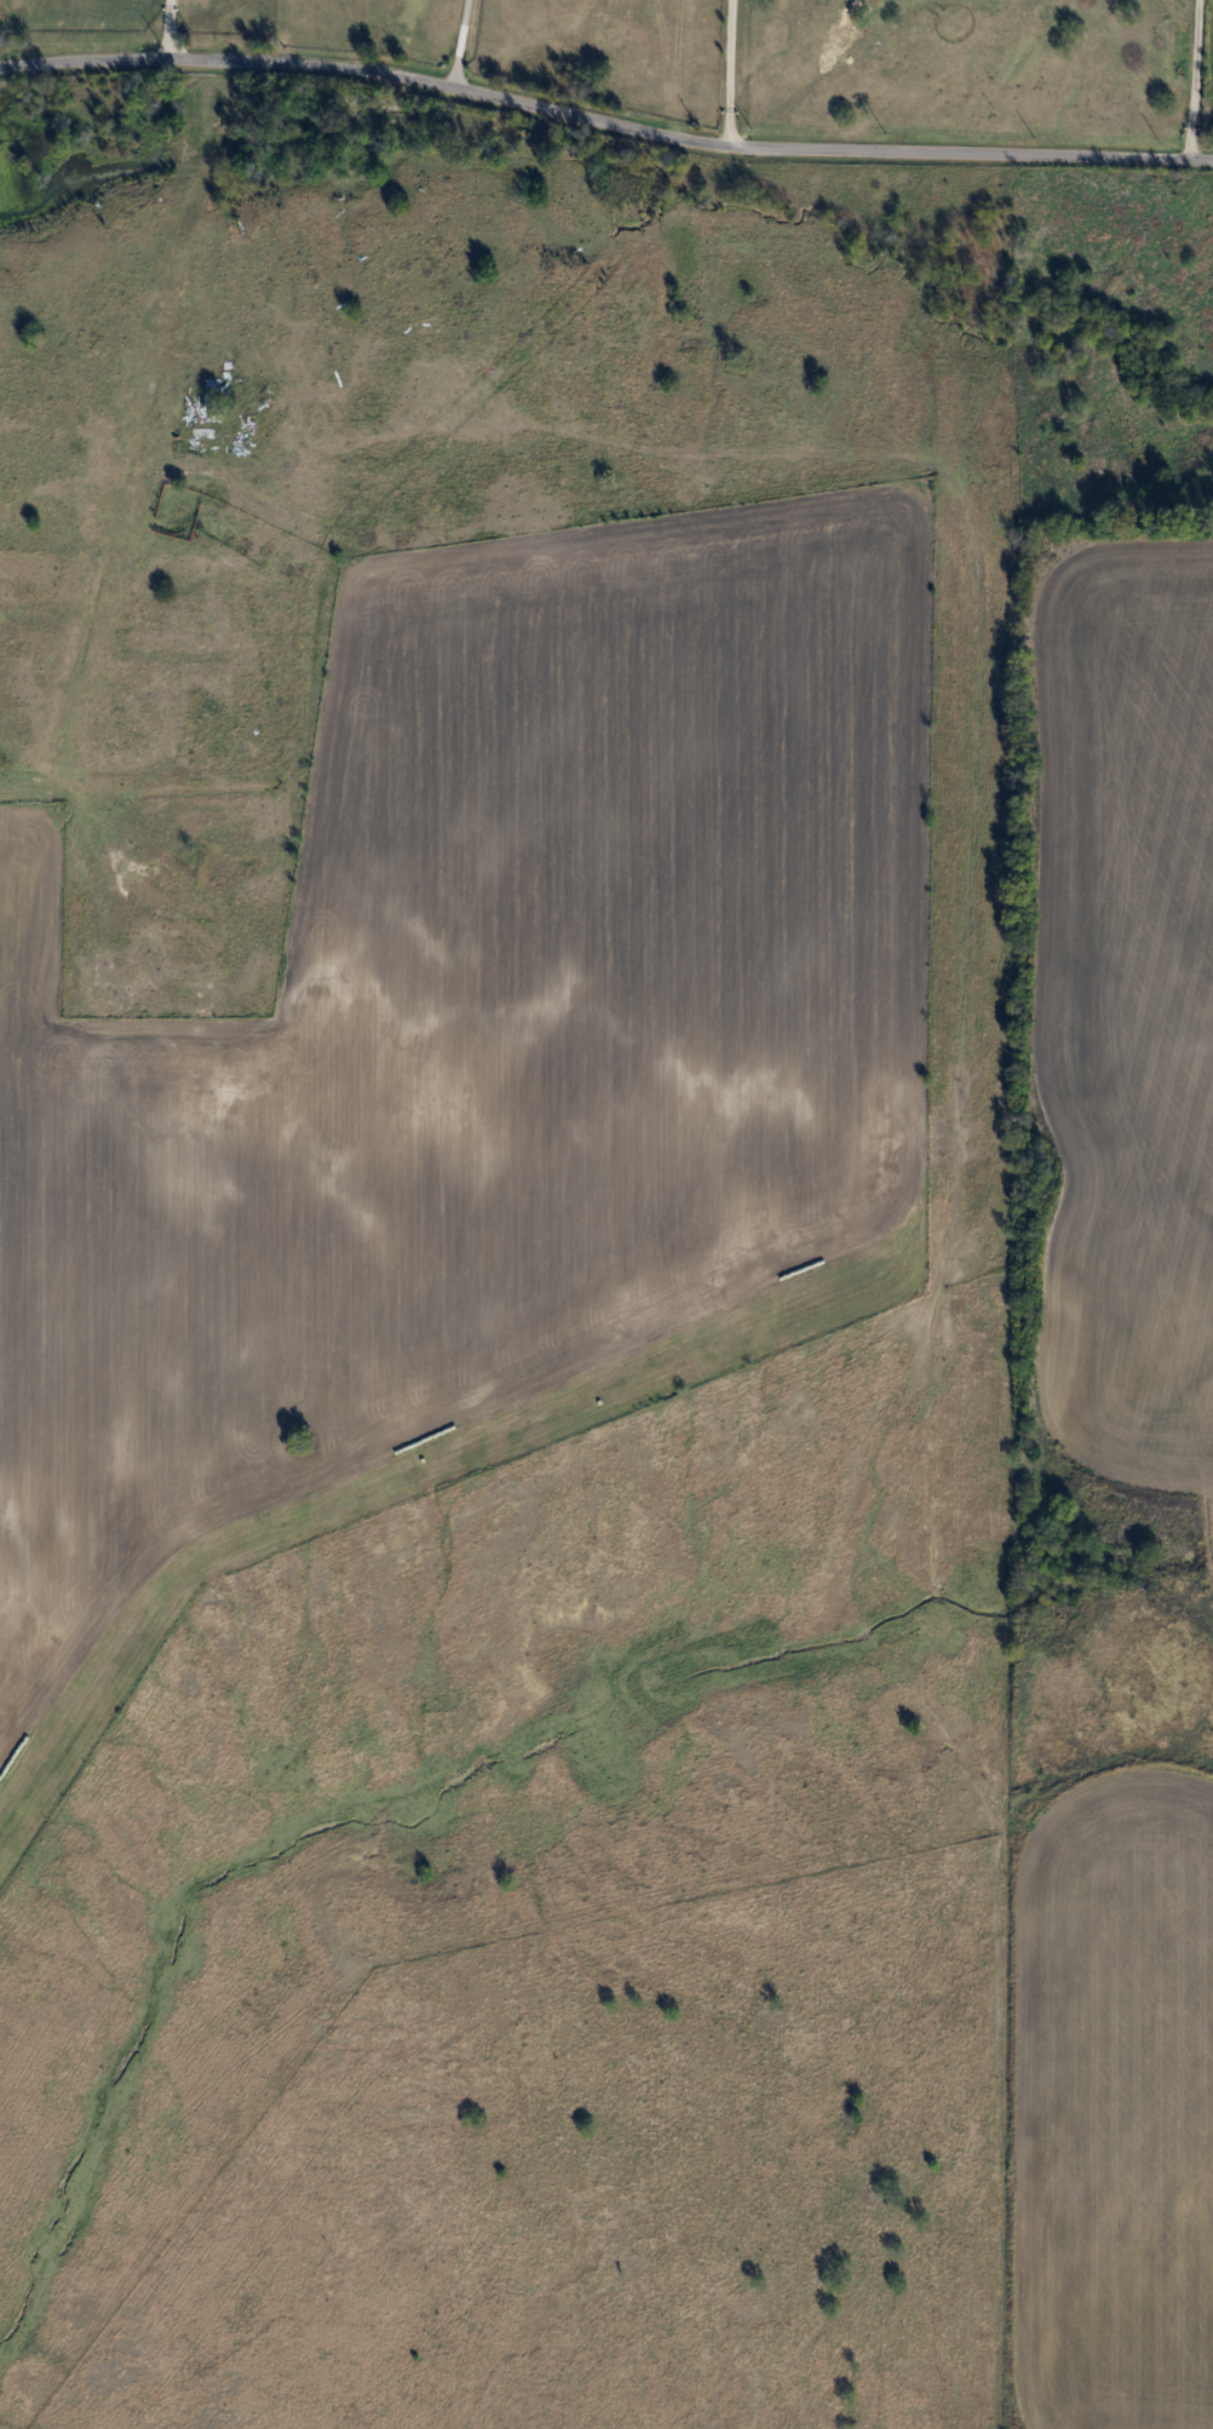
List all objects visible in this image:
road: (168, 28)
road: (454, 41)
road: (723, 70)
road: (1191, 79)
road: (604, 121)

